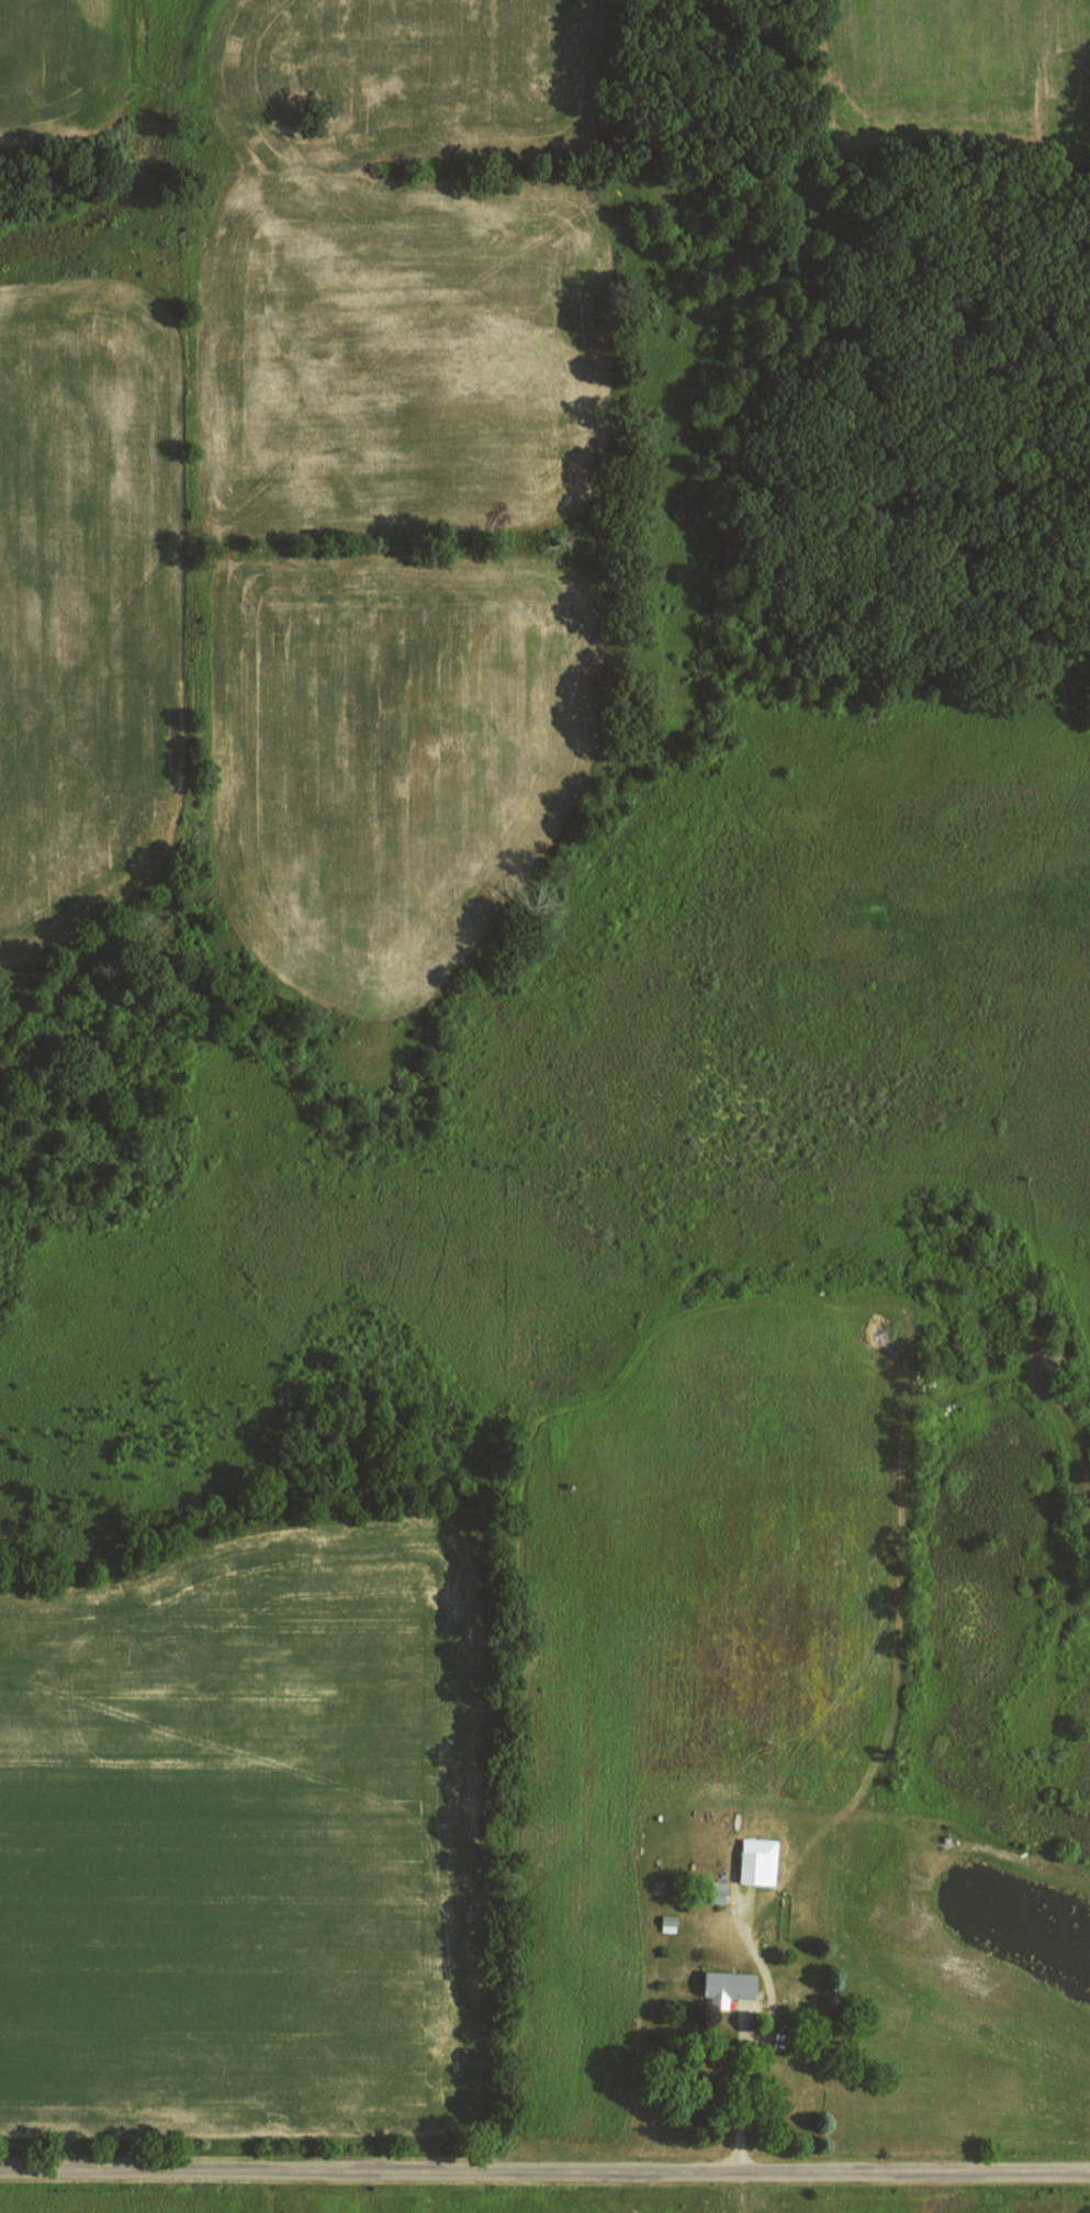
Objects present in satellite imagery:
building: (758, 1862)
building: (670, 1923)
building: (729, 1988)
road: (544, 2177)

